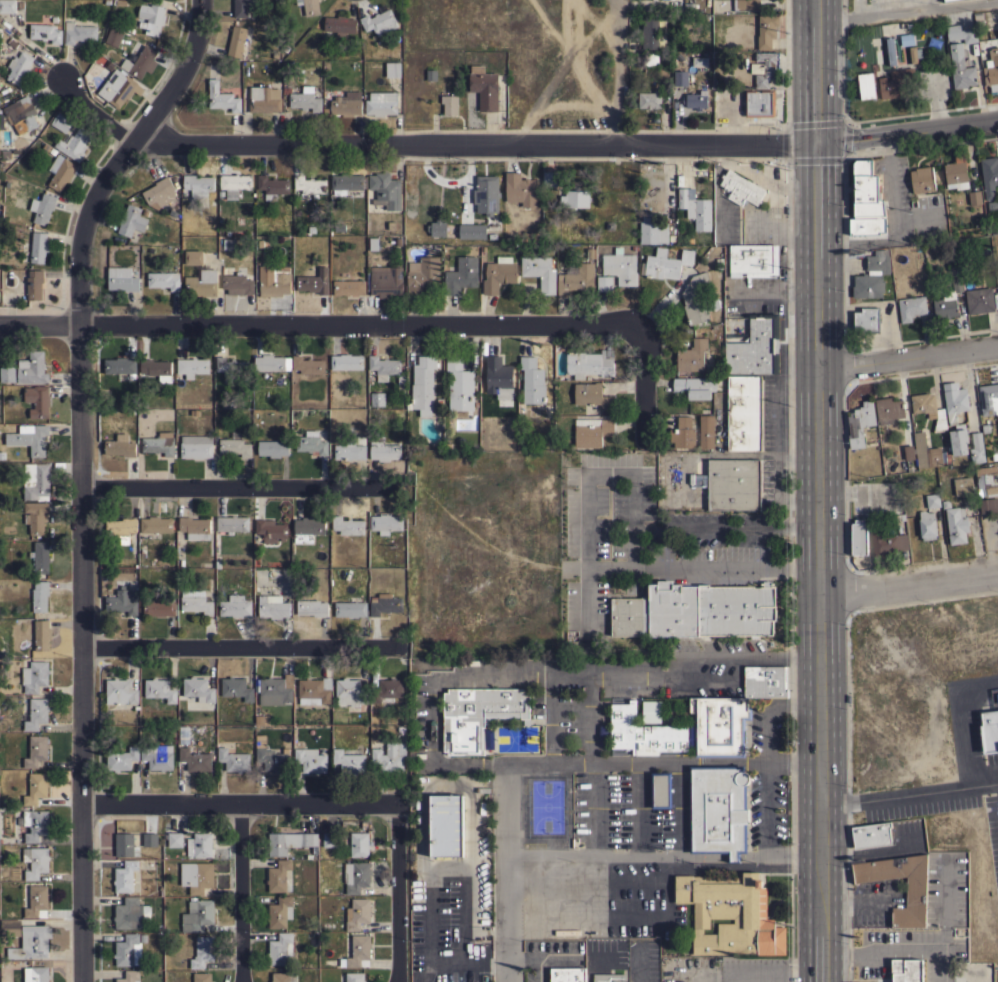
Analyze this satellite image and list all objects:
building: (943, 0)
building: (746, 4)
parking lot: (885, 4)
road: (931, 4)
building: (7, 6)
building: (309, 6)
building: (244, 7)
road: (857, 8)
road: (907, 11)
building: (152, 17)
building: (379, 21)
building: (340, 25)
building: (997, 26)
building: (766, 30)
building: (45, 32)
building: (78, 32)
building: (961, 33)
building: (650, 34)
building: (114, 37)
building: (906, 39)
building: (236, 41)
building: (890, 50)
building: (914, 54)
building: (650, 58)
building: (140, 62)
road: (574, 64)
building: (19, 67)
building: (764, 67)
building: (392, 68)
building: (960, 68)
building: (991, 70)
road: (619, 71)
building: (680, 78)
building: (895, 82)
building: (866, 85)
building: (484, 87)
building: (118, 88)
building: (221, 97)
building: (264, 99)
building: (305, 99)
building: (649, 99)
building: (695, 99)
building: (759, 102)
building: (381, 103)
building: (346, 104)
building: (449, 104)
building: (21, 114)
building: (61, 122)
road: (907, 130)
road: (428, 143)
traffic signals: (817, 143)
building: (74, 144)
building: (60, 172)
building: (956, 175)
building: (989, 175)
building: (550, 179)
building: (922, 179)
building: (346, 182)
building: (198, 184)
building: (234, 184)
building: (309, 185)
building: (272, 186)
building: (740, 188)
building: (520, 189)
building: (385, 190)
building: (866, 190)
building: (159, 192)
building: (486, 194)
building: (684, 196)
building: (974, 197)
building: (575, 198)
parking lot: (751, 203)
building: (44, 208)
building: (702, 213)
building: (131, 220)
building: (867, 224)
building: (437, 227)
building: (472, 230)
building: (652, 230)
building: (229, 243)
building: (372, 243)
building: (38, 247)
building: (193, 257)
building: (753, 260)
building: (666, 263)
building: (620, 266)
building: (539, 272)
building: (498, 273)
building: (422, 274)
building: (461, 275)
building: (872, 275)
building: (121, 279)
building: (577, 279)
building: (164, 280)
building: (273, 281)
building: (385, 281)
building: (201, 282)
building: (238, 282)
building: (603, 282)
building: (34, 283)
building: (312, 284)
building: (348, 287)
building: (947, 300)
building: (979, 300)
building: (697, 301)
building: (910, 307)
building: (866, 319)
road: (315, 325)
building: (754, 349)
building: (691, 355)
road: (907, 360)
building: (346, 361)
building: (271, 362)
building: (588, 364)
building: (307, 365)
building: (120, 366)
building: (192, 366)
building: (230, 366)
building: (383, 366)
building: (32, 368)
road: (643, 368)
building: (156, 369)
building: (7, 373)
building: (497, 374)
building: (532, 380)
building: (422, 385)
building: (459, 386)
building: (695, 386)
building: (592, 395)
road: (776, 396)
building: (988, 398)
building: (377, 399)
building: (37, 400)
building: (954, 400)
building: (888, 408)
building: (929, 409)
building: (744, 412)
building: (860, 423)
building: (591, 431)
building: (706, 431)
building: (682, 433)
building: (29, 438)
building: (958, 441)
building: (311, 442)
building: (159, 443)
building: (234, 445)
building: (119, 446)
building: (196, 446)
building: (273, 448)
building: (351, 448)
building: (977, 448)
building: (382, 449)
building: (909, 452)
building: (928, 452)
road: (79, 474)
road: (774, 474)
building: (987, 478)
building: (36, 481)
building: (730, 482)
road: (235, 485)
building: (963, 485)
road: (818, 491)
building: (932, 500)
road: (630, 504)
building: (36, 516)
building: (232, 523)
building: (385, 523)
building: (955, 523)
building: (155, 524)
building: (347, 525)
building: (927, 525)
building: (195, 528)
building: (307, 528)
building: (120, 529)
building: (270, 530)
road: (724, 531)
building: (858, 537)
building: (887, 543)
road: (630, 549)
building: (40, 556)
road: (725, 566)
road: (909, 587)
building: (40, 596)
building: (122, 601)
building: (195, 602)
building: (384, 604)
building: (235, 605)
building: (159, 606)
building: (272, 606)
building: (312, 607)
building: (350, 609)
building: (696, 611)
building: (41, 634)
road: (238, 654)
road: (546, 674)
building: (35, 676)
building: (765, 681)
road: (977, 681)
building: (236, 688)
building: (159, 689)
building: (198, 689)
building: (314, 690)
building: (386, 690)
building: (120, 691)
building: (273, 691)
building: (349, 692)
road: (793, 703)
building: (651, 711)
building: (36, 713)
building: (478, 716)
building: (685, 728)
building: (989, 731)
building: (184, 734)
building: (603, 735)
road: (767, 736)
road: (963, 736)
building: (36, 750)
building: (157, 756)
building: (389, 757)
building: (270, 758)
building: (121, 759)
building: (195, 760)
building: (233, 760)
building: (310, 760)
building: (348, 761)
road: (555, 763)
building: (35, 788)
building: (660, 790)
road: (909, 796)
parking lot: (991, 802)
road: (241, 805)
building: (717, 809)
building: (35, 824)
building: (446, 825)
building: (871, 834)
building: (150, 839)
building: (175, 839)
building: (330, 839)
building: (289, 842)
building: (359, 844)
building: (125, 845)
building: (199, 845)
building: (35, 861)
road: (664, 873)
building: (124, 876)
building: (196, 876)
building: (356, 876)
building: (279, 877)
road: (238, 893)
building: (915, 894)
road: (396, 900)
building: (36, 901)
building: (279, 912)
building: (131, 913)
building: (359, 914)
building: (730, 914)
building: (197, 915)
building: (10, 927)
building: (566, 932)
building: (31, 942)
building: (280, 948)
building: (128, 950)
building: (202, 951)
road: (895, 951)
building: (357, 952)
road: (457, 964)
building: (906, 970)
building: (38, 974)
building: (567, 974)
road: (769, 974)
building: (129, 976)
building: (201, 977)
building: (283, 977)
building: (354, 977)
building: (608, 977)

